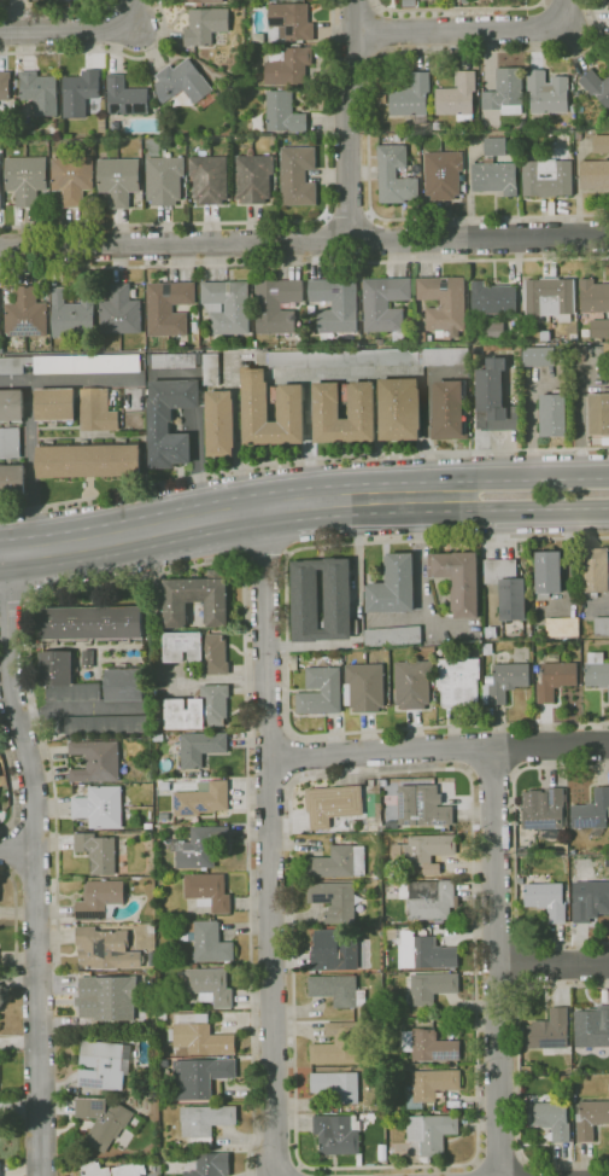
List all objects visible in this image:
building: (201, 1)
building: (464, 1)
building: (409, 2)
building: (608, 2)
building: (235, 8)
road: (59, 10)
road: (459, 10)
road: (356, 11)
road: (566, 13)
building: (292, 21)
building: (205, 24)
road: (381, 29)
road: (462, 29)
road: (80, 31)
road: (358, 50)
road: (106, 51)
building: (288, 65)
building: (182, 83)
building: (4, 86)
building: (597, 87)
building: (39, 92)
building: (505, 92)
building: (547, 92)
building: (80, 93)
building: (125, 97)
building: (457, 97)
building: (411, 98)
building: (381, 99)
building: (283, 112)
road: (347, 120)
road: (369, 122)
building: (415, 136)
building: (397, 138)
building: (204, 141)
building: (601, 142)
building: (494, 146)
building: (394, 175)
building: (298, 176)
building: (441, 176)
building: (253, 177)
building: (546, 177)
building: (593, 177)
building: (25, 179)
building: (72, 179)
building: (209, 179)
building: (118, 180)
building: (164, 180)
building: (494, 180)
building: (0, 192)
road: (349, 214)
road: (270, 221)
road: (368, 237)
road: (329, 238)
road: (304, 241)
road: (304, 263)
building: (494, 296)
building: (549, 296)
building: (593, 297)
building: (335, 304)
building: (276, 305)
building: (168, 307)
building: (228, 307)
building: (385, 307)
building: (441, 308)
building: (119, 312)
building: (25, 314)
building: (74, 314)
building: (598, 327)
building: (1, 348)
building: (537, 355)
building: (370, 357)
building: (174, 360)
building: (71, 363)
building: (211, 368)
road: (69, 378)
building: (492, 397)
building: (55, 403)
building: (11, 404)
building: (256, 404)
building: (399, 408)
building: (446, 408)
building: (96, 411)
building: (327, 411)
building: (598, 412)
building: (551, 414)
building: (170, 420)
building: (221, 423)
building: (10, 442)
road: (198, 458)
building: (88, 460)
road: (301, 460)
road: (33, 473)
road: (541, 479)
building: (12, 481)
road: (235, 501)
road: (543, 508)
road: (236, 530)
road: (264, 557)
building: (595, 569)
building: (547, 571)
building: (456, 578)
building: (393, 586)
building: (505, 587)
building: (305, 594)
road: (16, 596)
building: (197, 599)
building: (90, 622)
building: (601, 624)
building: (561, 625)
road: (245, 628)
building: (393, 635)
road: (286, 642)
building: (198, 650)
building: (88, 658)
building: (596, 670)
building: (64, 679)
building: (554, 679)
building: (456, 680)
building: (503, 681)
building: (414, 683)
building: (124, 685)
building: (365, 686)
building: (321, 691)
building: (198, 709)
building: (106, 724)
road: (269, 735)
building: (200, 747)
road: (438, 747)
road: (468, 747)
road: (295, 757)
building: (95, 762)
road: (268, 782)
road: (12, 787)
building: (201, 798)
building: (332, 804)
building: (100, 807)
building: (422, 807)
building: (541, 808)
building: (591, 809)
building: (163, 816)
building: (148, 826)
road: (34, 829)
road: (268, 836)
building: (199, 846)
road: (17, 849)
building: (422, 849)
road: (13, 850)
building: (96, 851)
road: (35, 855)
building: (338, 862)
road: (35, 867)
building: (387, 873)
building: (207, 891)
building: (429, 898)
building: (544, 898)
building: (588, 898)
building: (100, 900)
building: (334, 901)
road: (16, 908)
building: (150, 928)
building: (207, 941)
building: (105, 949)
building: (333, 951)
building: (424, 951)
road: (18, 957)
road: (494, 961)
road: (552, 963)
building: (207, 985)
building: (428, 988)
building: (338, 990)
building: (112, 999)
building: (591, 1025)
building: (547, 1029)
building: (200, 1036)
building: (338, 1044)
building: (429, 1046)
building: (104, 1064)
building: (447, 1064)
building: (199, 1076)
building: (336, 1085)
building: (431, 1085)
building: (590, 1117)
building: (549, 1118)
building: (103, 1120)
building: (205, 1122)
building: (431, 1133)
building: (336, 1134)
road: (476, 1145)
building: (382, 1152)
building: (207, 1165)
road: (475, 1168)
building: (112, 1170)

